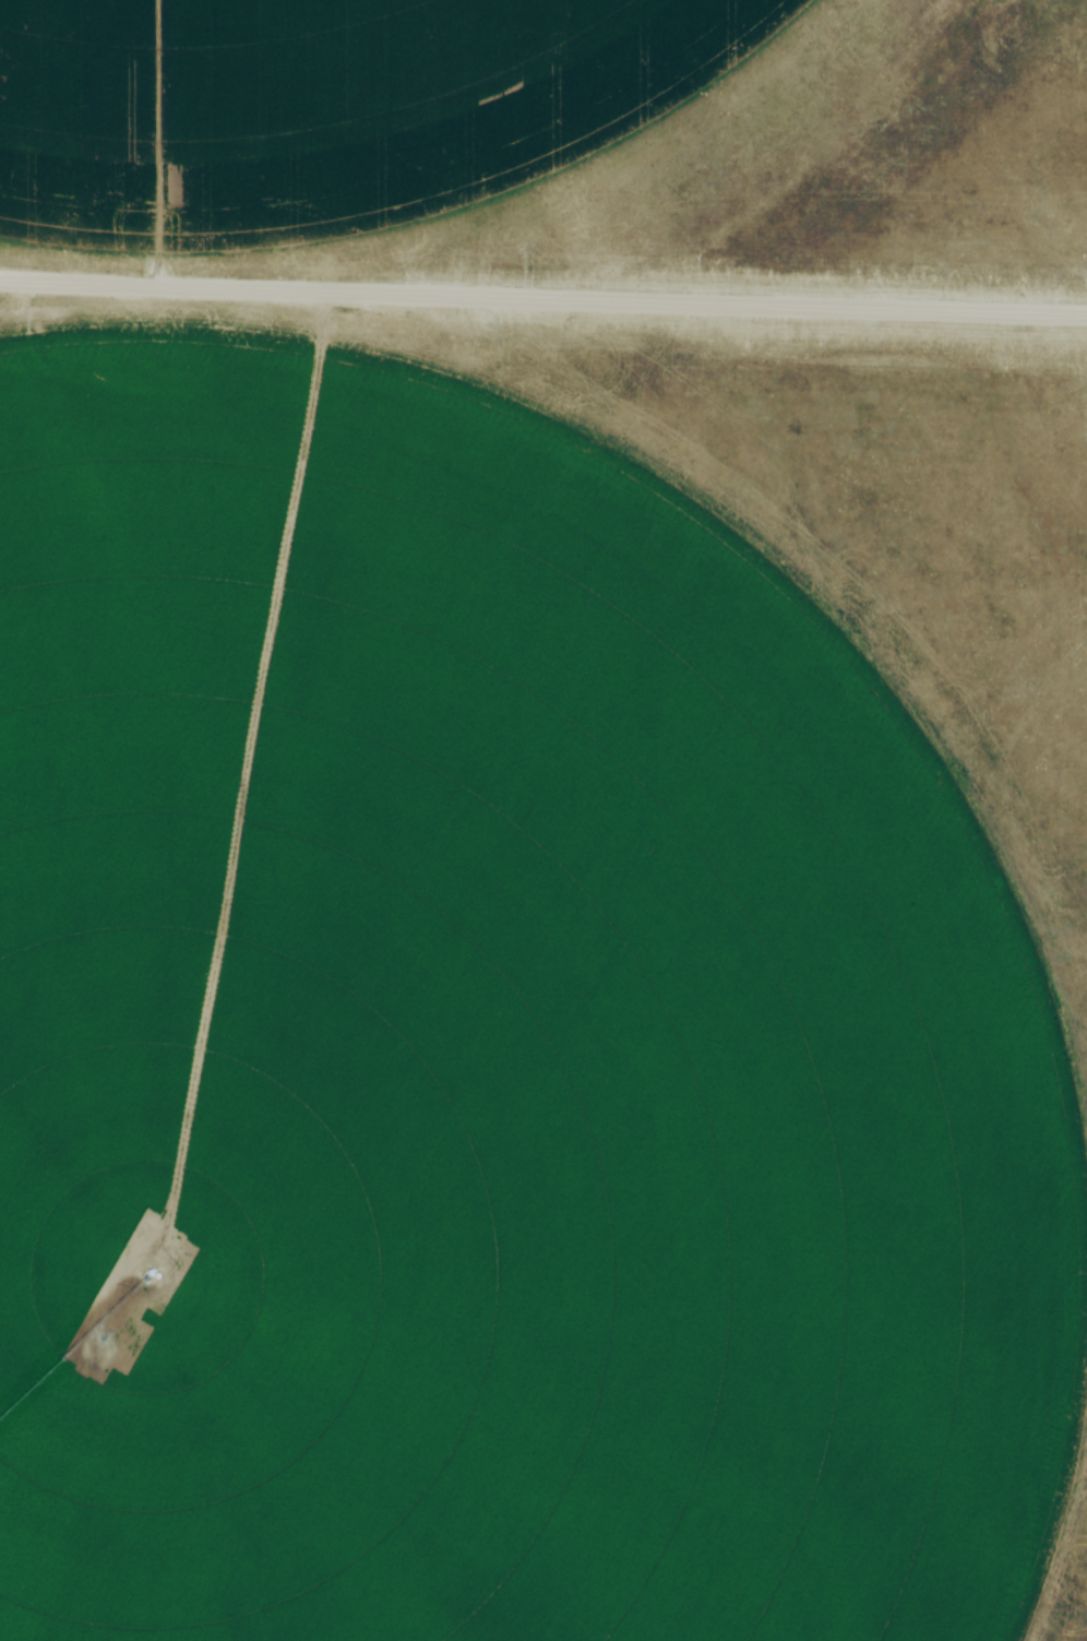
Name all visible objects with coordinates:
crop: (319, 109)
road: (543, 304)
crop: (464, 1092)

